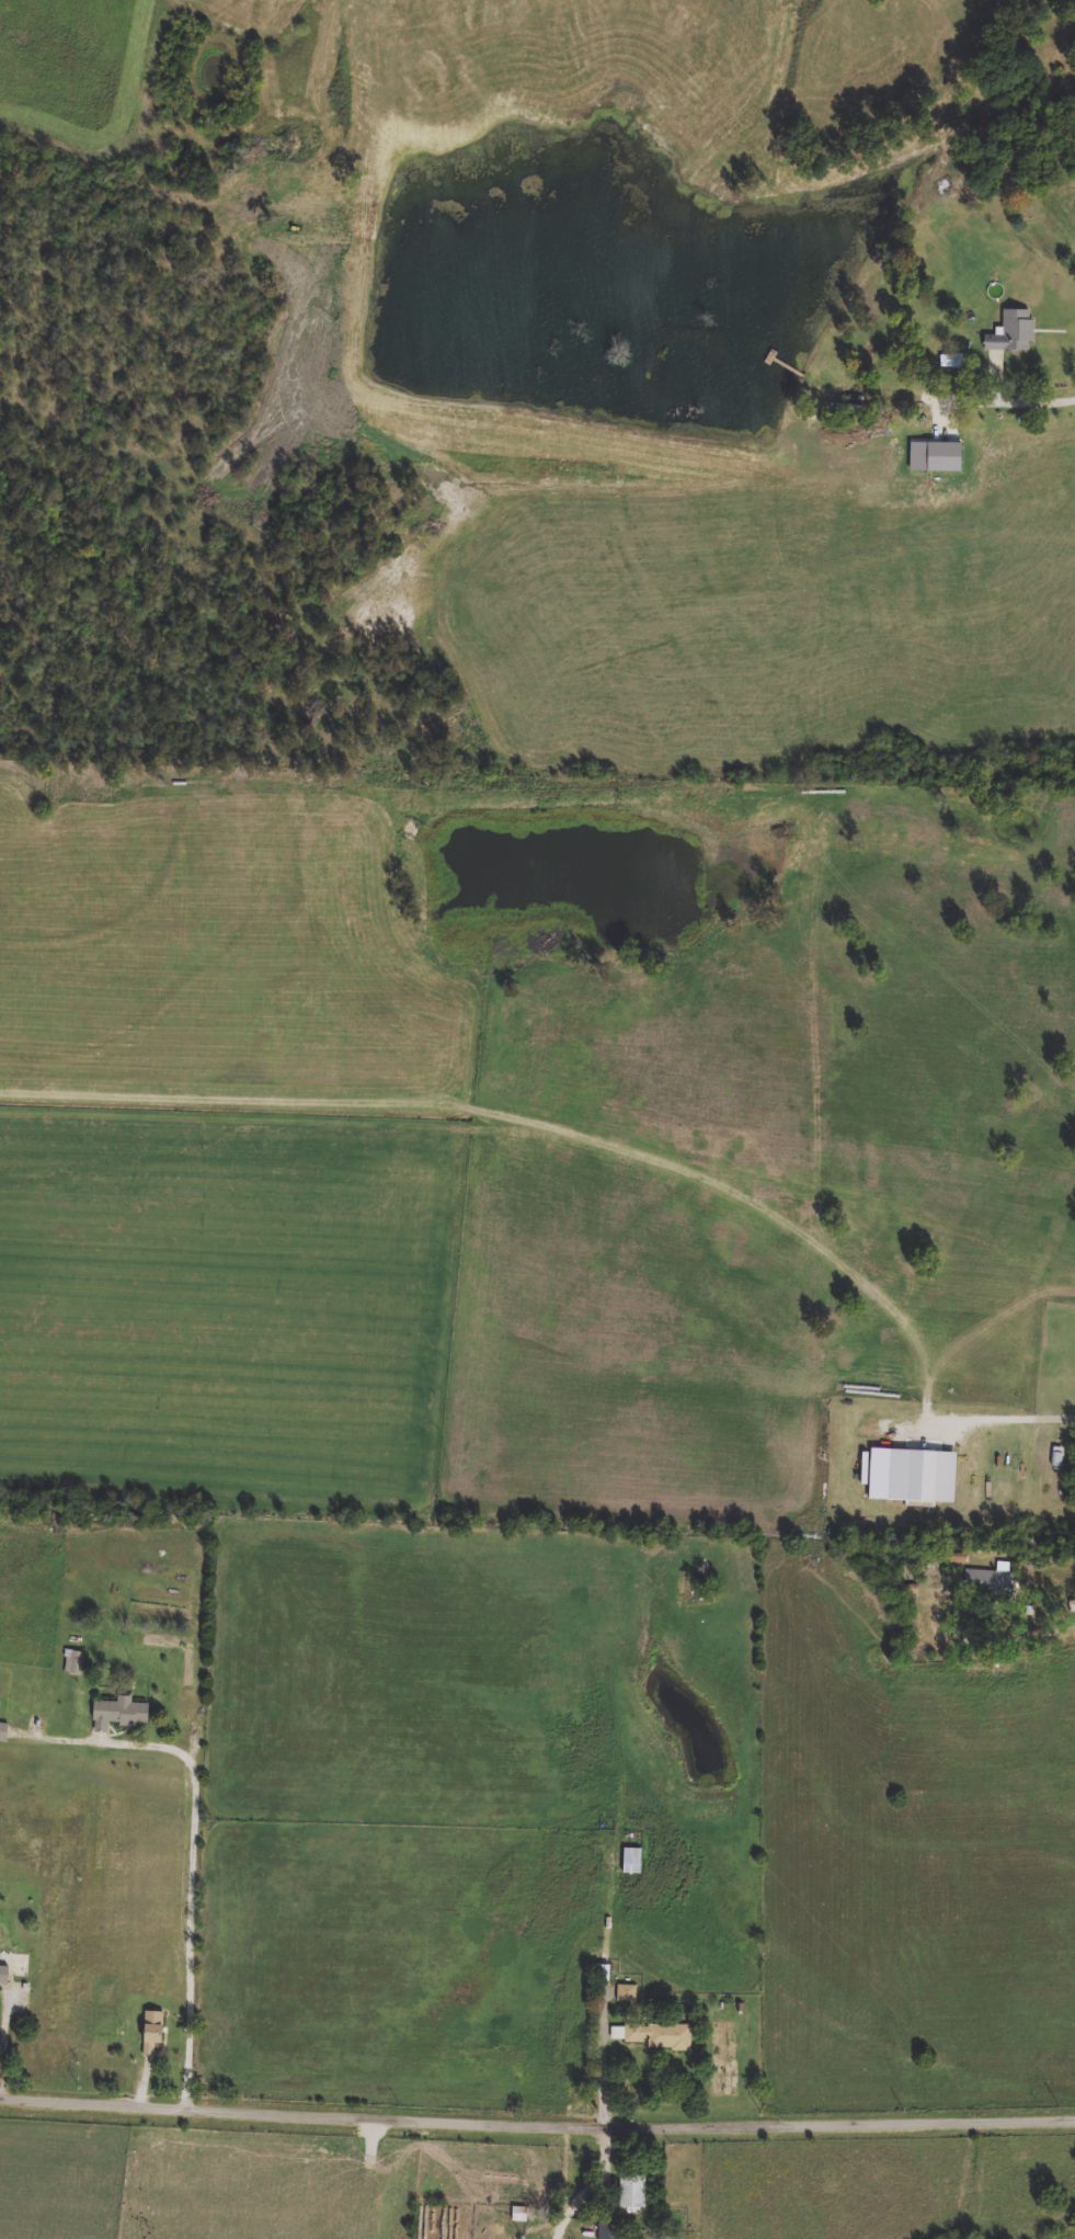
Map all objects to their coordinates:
building: (1073, 47)
building: (1015, 332)
road: (1031, 402)
building: (847, 410)
building: (415, 831)
road: (1007, 1422)
building: (915, 1477)
building: (934, 1567)
building: (992, 1583)
road: (1057, 1622)
building: (76, 1663)
building: (118, 1714)
building: (3, 1731)
road: (198, 1841)
building: (633, 1862)
building: (14, 1966)
building: (605, 1976)
building: (5, 1978)
building: (627, 1993)
building: (152, 2032)
building: (656, 2036)
road: (8, 2043)
road: (606, 2057)
road: (537, 2128)
road: (603, 2167)
road: (260, 2175)
building: (633, 2192)
building: (521, 2214)
building: (610, 2230)

